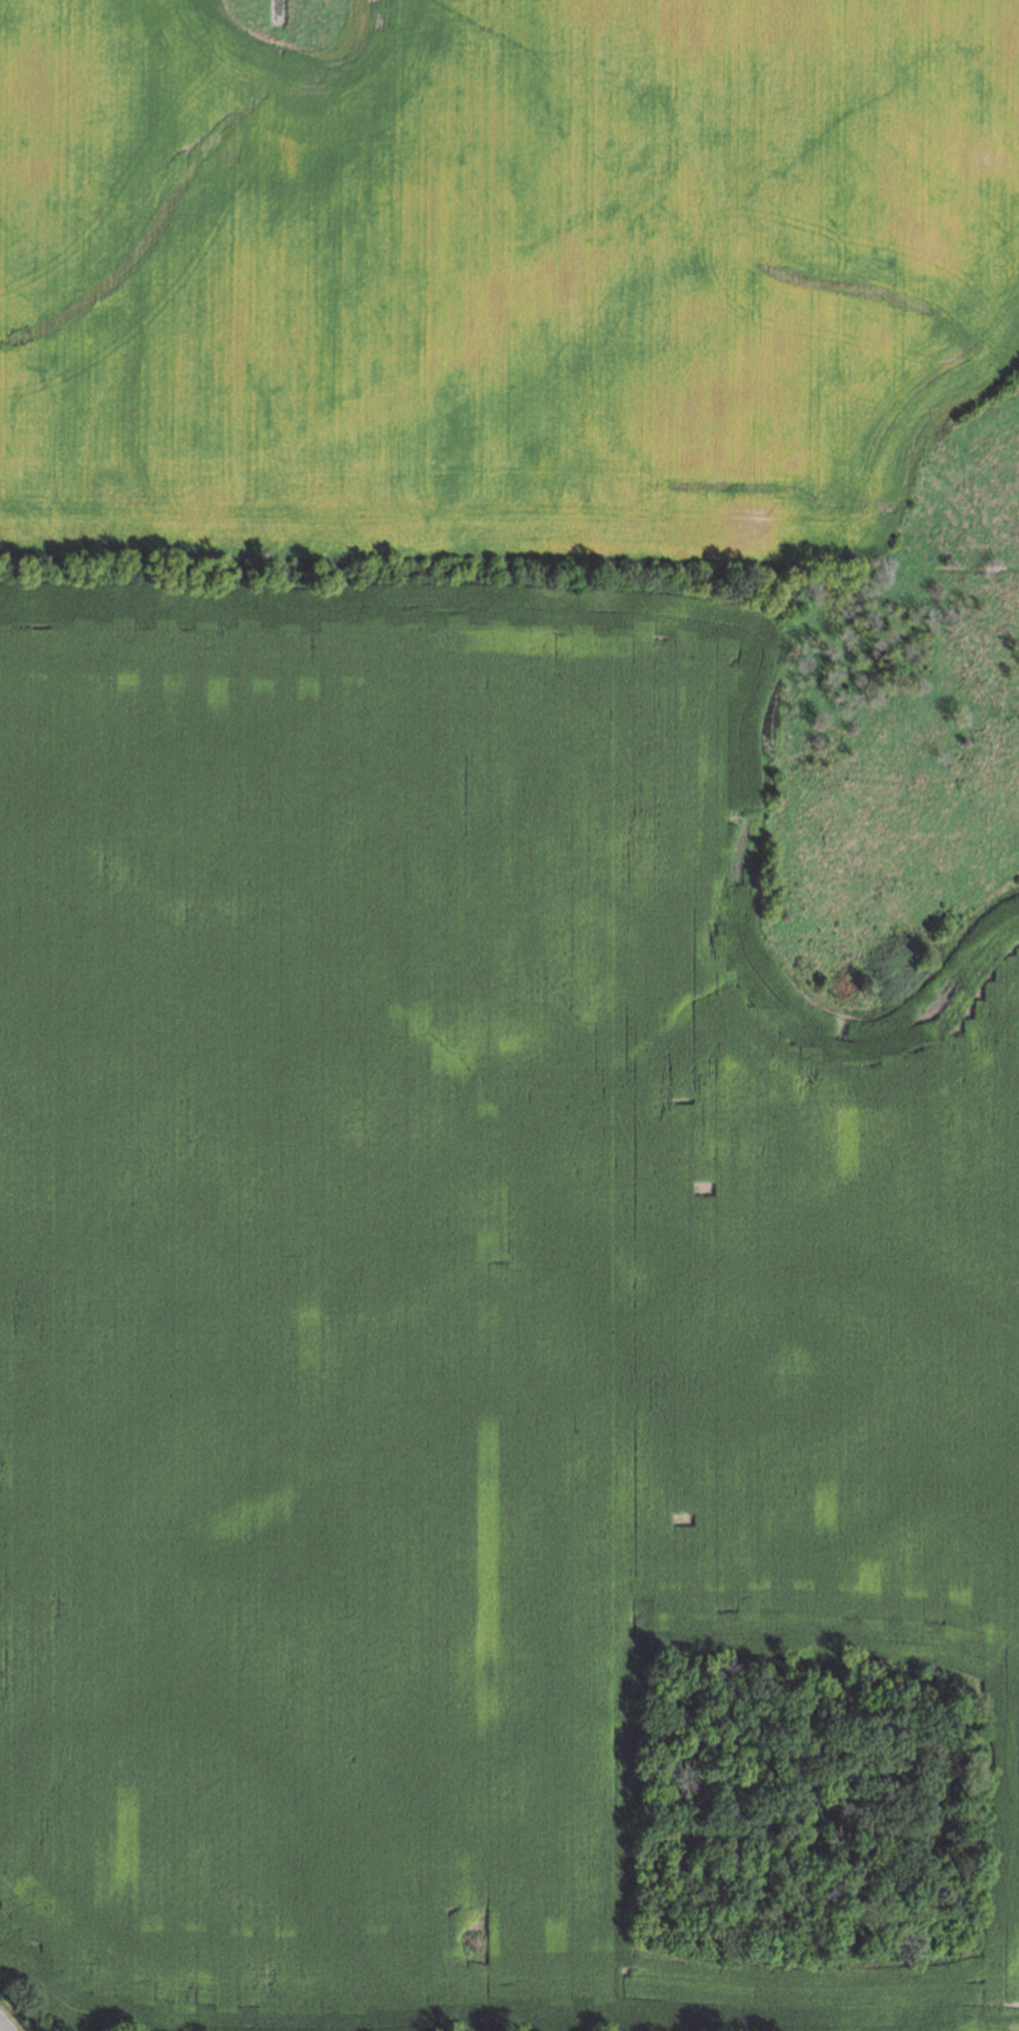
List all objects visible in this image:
road: (3, 2026)

